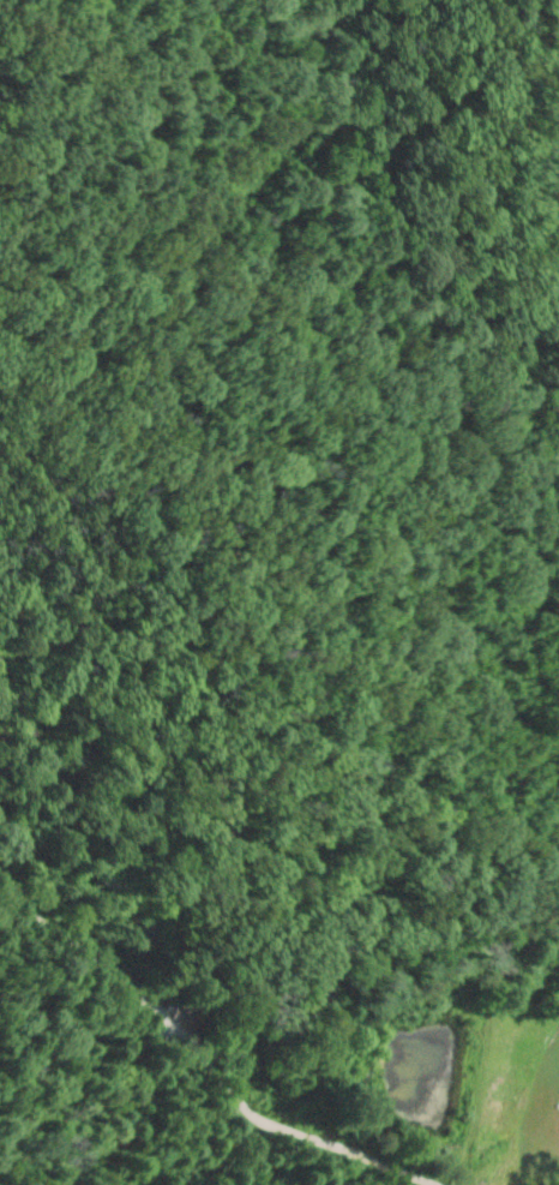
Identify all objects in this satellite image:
road: (379, 1172)

